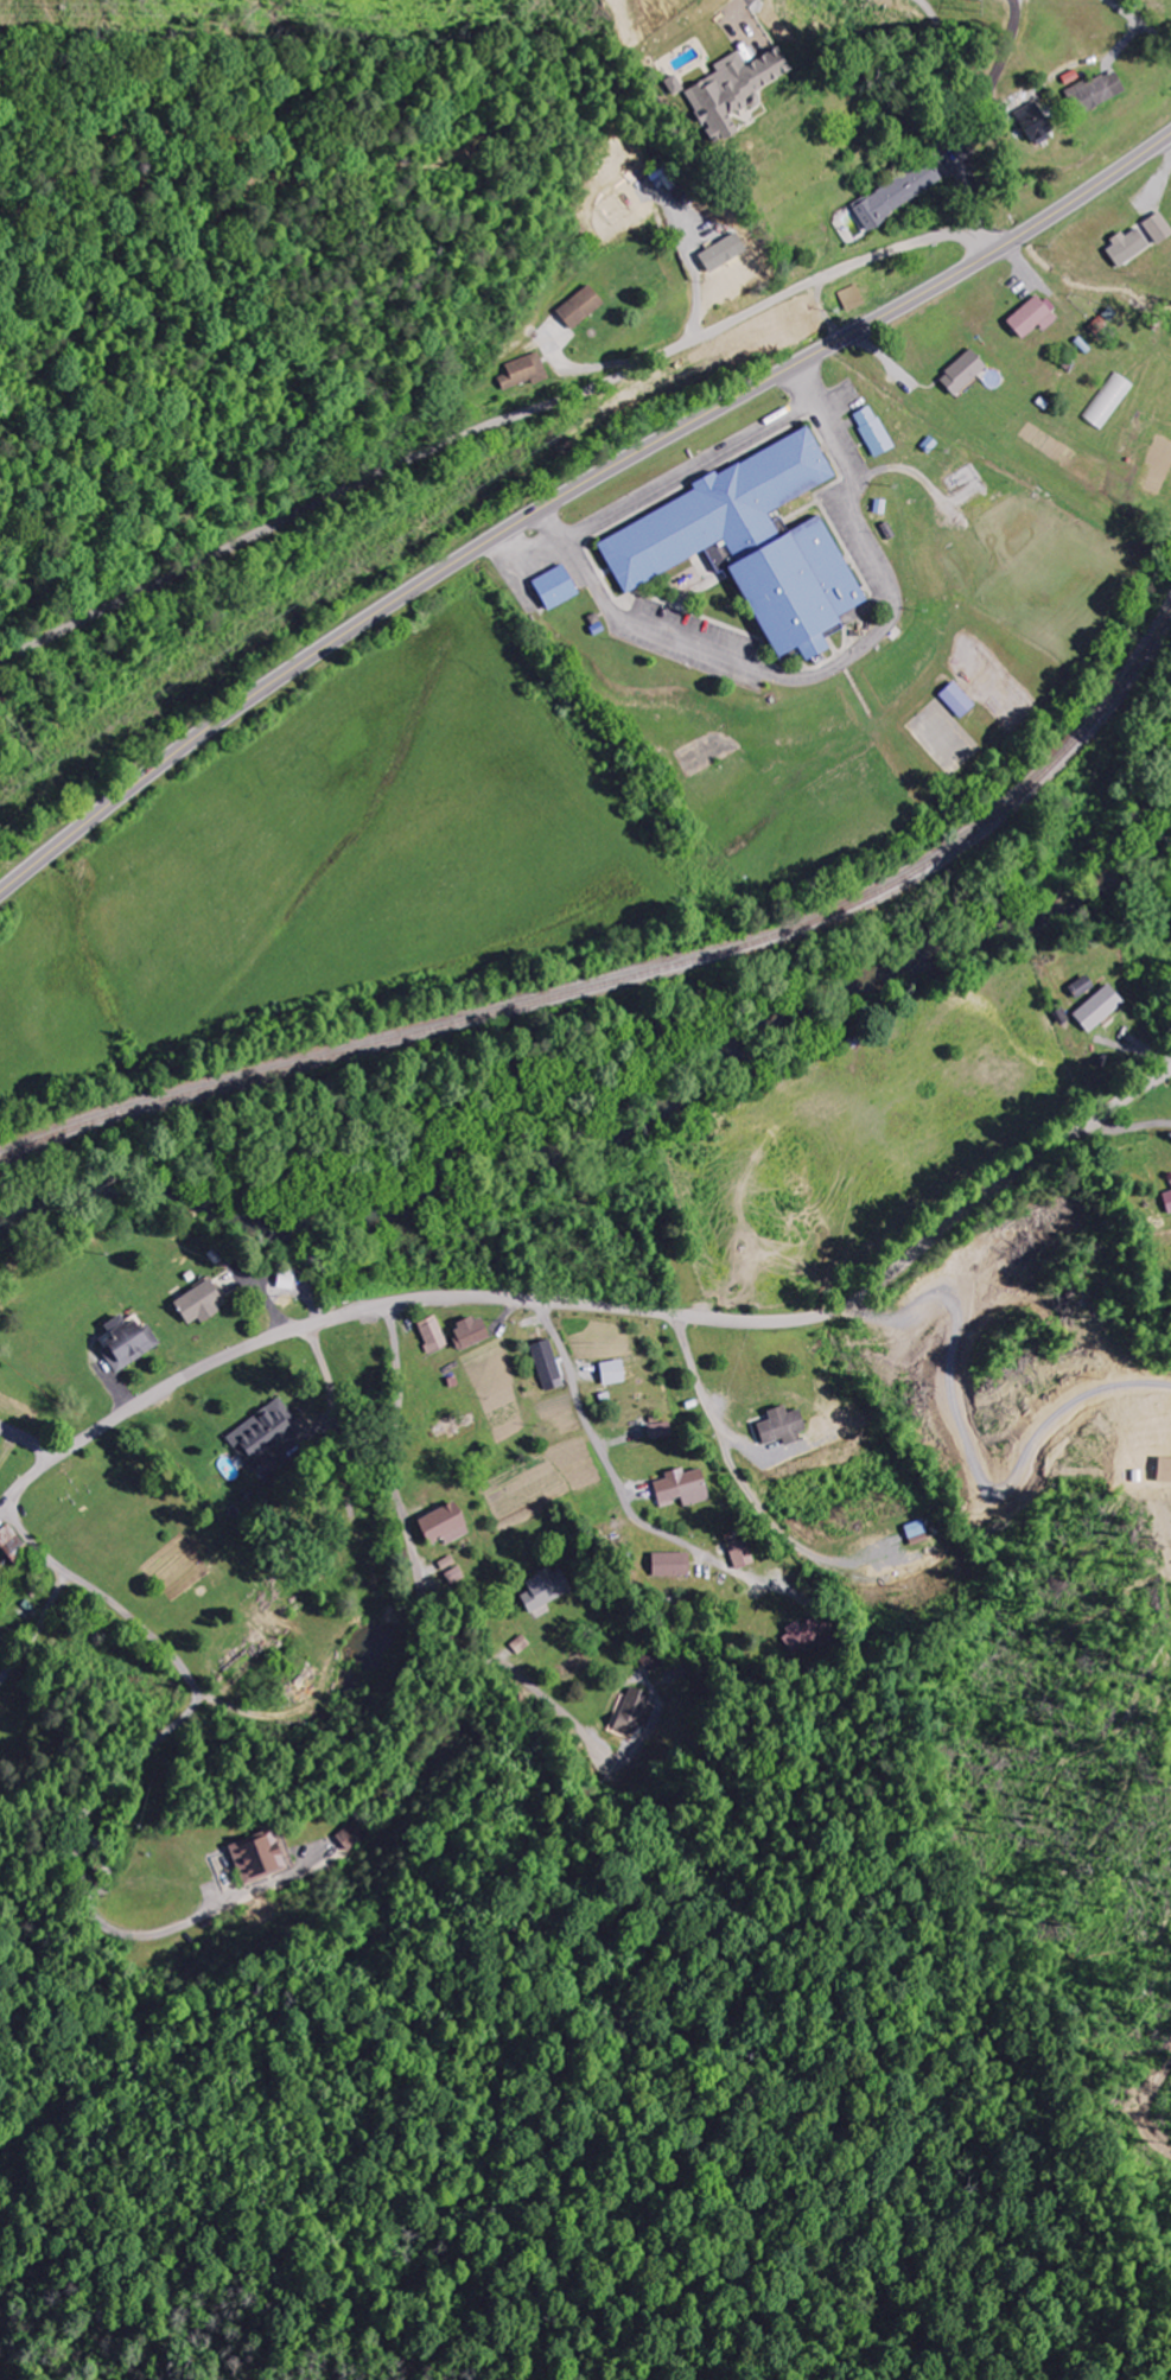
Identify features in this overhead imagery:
road: (1107, 13)
building: (740, 24)
road: (724, 25)
road: (1011, 44)
road: (943, 53)
building: (670, 87)
building: (728, 91)
building: (1094, 93)
building: (1031, 125)
road: (959, 164)
building: (663, 179)
building: (897, 195)
building: (1137, 240)
building: (852, 298)
building: (578, 308)
building: (1031, 317)
building: (522, 373)
building: (961, 373)
building: (1107, 401)
road: (498, 420)
building: (871, 432)
building: (928, 445)
road: (690, 471)
road: (569, 491)
building: (877, 507)
building: (886, 532)
building: (747, 546)
building: (558, 587)
building: (591, 619)
building: (594, 629)
road: (833, 669)
building: (955, 700)
park: (944, 738)
railway: (637, 974)
building: (1081, 987)
building: (1097, 1008)
building: (1166, 1201)
building: (284, 1280)
building: (197, 1303)
road: (635, 1310)
building: (467, 1332)
building: (431, 1335)
building: (125, 1343)
building: (546, 1366)
building: (611, 1373)
building: (779, 1426)
building: (658, 1431)
building: (263, 1436)
road: (591, 1436)
road: (28, 1437)
building: (1163, 1471)
building: (681, 1488)
road: (403, 1514)
building: (440, 1526)
building: (915, 1533)
building: (9, 1545)
building: (739, 1553)
building: (669, 1565)
building: (450, 1570)
road: (79, 1579)
building: (545, 1589)
building: (812, 1634)
building: (518, 1644)
building: (653, 1660)
building: (0, 1693)
building: (634, 1712)
building: (354, 1833)
road: (252, 1888)

